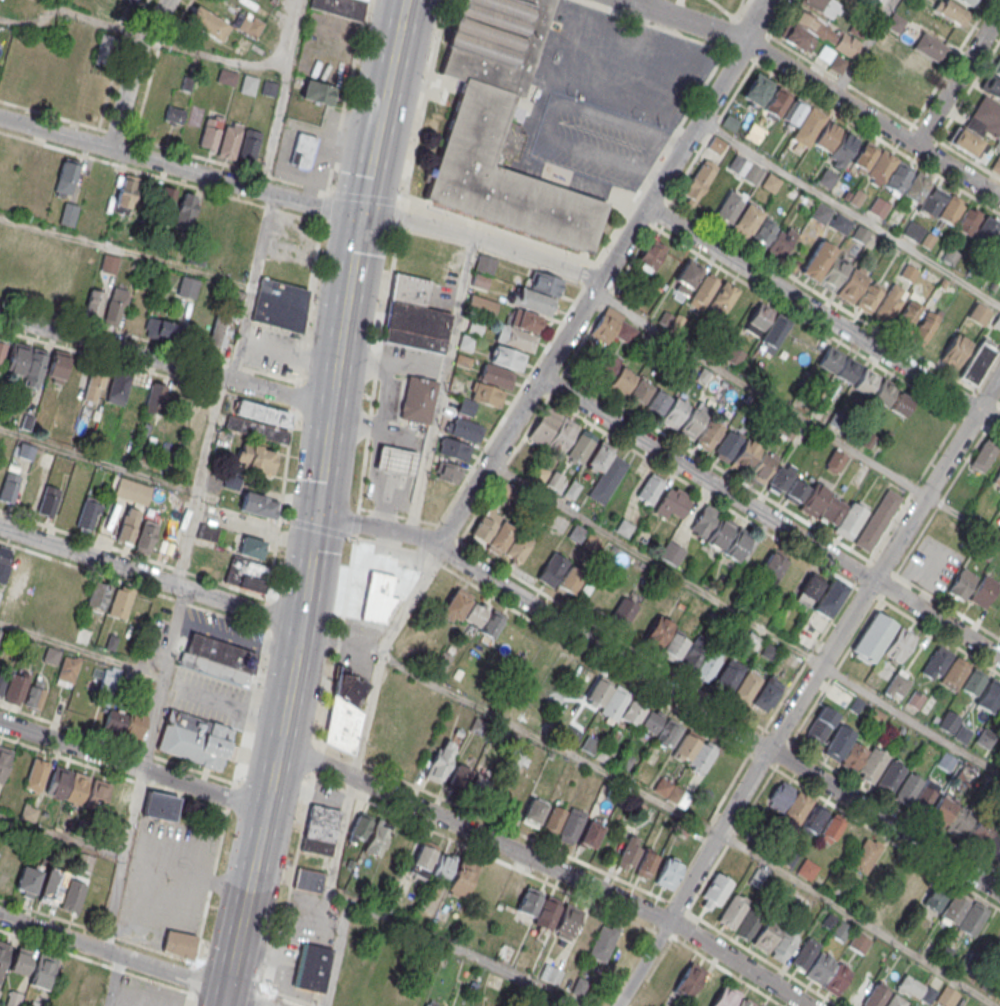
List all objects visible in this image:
building: (968, 2)
park: (716, 6)
building: (339, 7)
building: (820, 7)
building: (953, 13)
road: (31, 21)
building: (207, 23)
building: (895, 24)
building: (250, 25)
building: (816, 34)
building: (884, 41)
road: (862, 47)
building: (102, 48)
building: (925, 54)
road: (210, 56)
building: (837, 64)
building: (997, 70)
road: (131, 71)
building: (227, 77)
road: (958, 78)
building: (908, 79)
building: (249, 84)
road: (817, 86)
building: (992, 86)
road: (279, 90)
building: (757, 90)
building: (317, 92)
building: (777, 102)
building: (794, 111)
road: (550, 113)
building: (173, 114)
building: (985, 118)
building: (729, 122)
building: (501, 129)
building: (817, 130)
building: (211, 132)
building: (230, 140)
building: (965, 142)
building: (250, 145)
building: (716, 146)
building: (843, 148)
building: (302, 151)
building: (996, 164)
building: (47, 165)
road: (180, 167)
building: (745, 170)
building: (66, 177)
building: (899, 179)
building: (698, 182)
building: (105, 189)
building: (125, 194)
road: (999, 197)
building: (167, 198)
building: (186, 207)
building: (878, 208)
building: (951, 210)
building: (726, 211)
road: (850, 211)
building: (68, 214)
traffic signals: (362, 214)
building: (744, 221)
building: (839, 223)
building: (967, 223)
building: (913, 231)
building: (986, 232)
building: (860, 234)
road: (483, 238)
building: (772, 239)
road: (124, 250)
road: (394, 252)
building: (196, 256)
building: (650, 256)
building: (817, 260)
building: (484, 272)
road: (603, 273)
building: (832, 273)
building: (684, 280)
road: (249, 284)
building: (545, 284)
building: (851, 285)
building: (188, 287)
building: (703, 291)
building: (868, 296)
building: (722, 299)
building: (533, 301)
building: (93, 303)
building: (280, 305)
building: (115, 306)
building: (481, 306)
building: (886, 307)
building: (979, 314)
building: (414, 315)
road: (822, 315)
building: (907, 316)
building: (757, 319)
building: (524, 320)
road: (560, 322)
building: (605, 324)
building: (924, 327)
building: (158, 328)
building: (221, 330)
building: (774, 333)
building: (515, 337)
building: (955, 351)
building: (507, 358)
building: (830, 359)
road: (165, 361)
building: (979, 361)
building: (26, 363)
building: (57, 367)
building: (848, 369)
building: (496, 375)
building: (621, 379)
building: (866, 381)
road: (440, 384)
building: (93, 386)
building: (118, 387)
building: (638, 391)
building: (883, 391)
road: (760, 393)
building: (487, 394)
building: (155, 398)
building: (417, 400)
building: (656, 402)
building: (900, 404)
building: (198, 410)
building: (674, 412)
building: (258, 422)
building: (692, 423)
building: (465, 430)
building: (551, 431)
building: (708, 434)
building: (727, 446)
building: (453, 450)
building: (25, 451)
building: (745, 454)
building: (983, 455)
building: (255, 458)
road: (96, 459)
building: (394, 461)
building: (835, 461)
building: (762, 464)
building: (538, 473)
building: (447, 474)
building: (0, 475)
building: (607, 479)
building: (779, 479)
road: (194, 480)
building: (997, 480)
building: (554, 481)
road: (283, 482)
building: (9, 488)
building: (649, 488)
building: (132, 491)
building: (795, 491)
building: (28, 494)
building: (813, 500)
building: (48, 501)
road: (319, 503)
building: (673, 503)
building: (259, 505)
building: (88, 513)
traffic signals: (318, 516)
road: (770, 518)
road: (963, 518)
building: (878, 519)
building: (850, 520)
building: (704, 521)
building: (128, 526)
road: (380, 528)
building: (719, 532)
building: (207, 533)
building: (146, 536)
road: (266, 536)
building: (500, 536)
building: (738, 543)
building: (517, 545)
building: (251, 547)
building: (4, 561)
road: (656, 564)
parking lot: (932, 564)
building: (773, 566)
building: (552, 570)
building: (19, 571)
building: (247, 574)
road: (150, 577)
building: (791, 577)
building: (962, 584)
building: (810, 588)
building: (983, 591)
building: (98, 595)
building: (377, 596)
building: (830, 598)
building: (130, 605)
building: (623, 612)
building: (473, 615)
building: (999, 625)
building: (657, 632)
building: (807, 635)
road: (235, 637)
building: (873, 637)
building: (899, 644)
building: (674, 646)
road: (80, 649)
building: (51, 655)
building: (702, 658)
building: (218, 659)
building: (936, 662)
building: (70, 664)
building: (954, 673)
building: (110, 675)
building: (729, 675)
building: (2, 682)
building: (973, 682)
building: (898, 684)
building: (16, 686)
road: (805, 689)
building: (757, 691)
building: (38, 692)
building: (989, 696)
building: (916, 699)
road: (234, 704)
building: (614, 706)
building: (344, 710)
road: (720, 720)
road: (910, 720)
building: (948, 721)
building: (124, 723)
building: (821, 724)
building: (962, 734)
building: (668, 735)
building: (985, 738)
building: (195, 741)
building: (838, 742)
road: (550, 743)
building: (590, 745)
building: (685, 747)
building: (604, 754)
building: (701, 757)
building: (853, 757)
building: (4, 759)
building: (441, 761)
building: (623, 761)
building: (871, 765)
road: (133, 766)
road: (139, 767)
building: (718, 771)
building: (37, 774)
road: (350, 776)
building: (888, 778)
building: (58, 782)
building: (469, 782)
building: (662, 786)
building: (77, 788)
building: (906, 791)
building: (96, 794)
building: (675, 795)
building: (779, 797)
building: (117, 801)
building: (160, 806)
building: (533, 813)
building: (806, 814)
building: (554, 818)
building: (960, 821)
building: (570, 826)
building: (320, 829)
building: (831, 829)
building: (589, 834)
building: (368, 836)
road: (60, 838)
building: (994, 846)
building: (628, 853)
building: (864, 855)
building: (84, 862)
building: (646, 863)
road: (408, 864)
building: (432, 865)
road: (547, 866)
building: (807, 869)
building: (667, 873)
parking lot: (168, 876)
building: (28, 880)
building: (308, 880)
building: (461, 881)
road: (169, 884)
building: (486, 886)
building: (51, 887)
building: (716, 889)
building: (925, 893)
building: (73, 894)
building: (955, 907)
building: (880, 910)
building: (550, 913)
building: (731, 913)
building: (972, 918)
road: (858, 919)
building: (749, 924)
road: (96, 930)
building: (841, 930)
road: (291, 932)
building: (766, 935)
building: (603, 941)
building: (859, 942)
building: (180, 944)
building: (784, 946)
road: (113, 952)
building: (805, 953)
building: (3, 954)
road: (463, 954)
building: (21, 960)
road: (108, 965)
building: (312, 967)
building: (818, 968)
building: (666, 970)
building: (43, 971)
building: (690, 979)
building: (835, 979)
road: (113, 980)
building: (911, 988)
building: (91, 989)
parking lot: (145, 993)
building: (705, 993)
road: (198, 996)
building: (726, 996)
building: (875, 996)
building: (947, 996)
road: (293, 997)
building: (371, 998)
building: (13, 999)
road: (242, 999)
building: (895, 1001)
building: (743, 1003)
building: (35, 1004)
building: (429, 1004)

